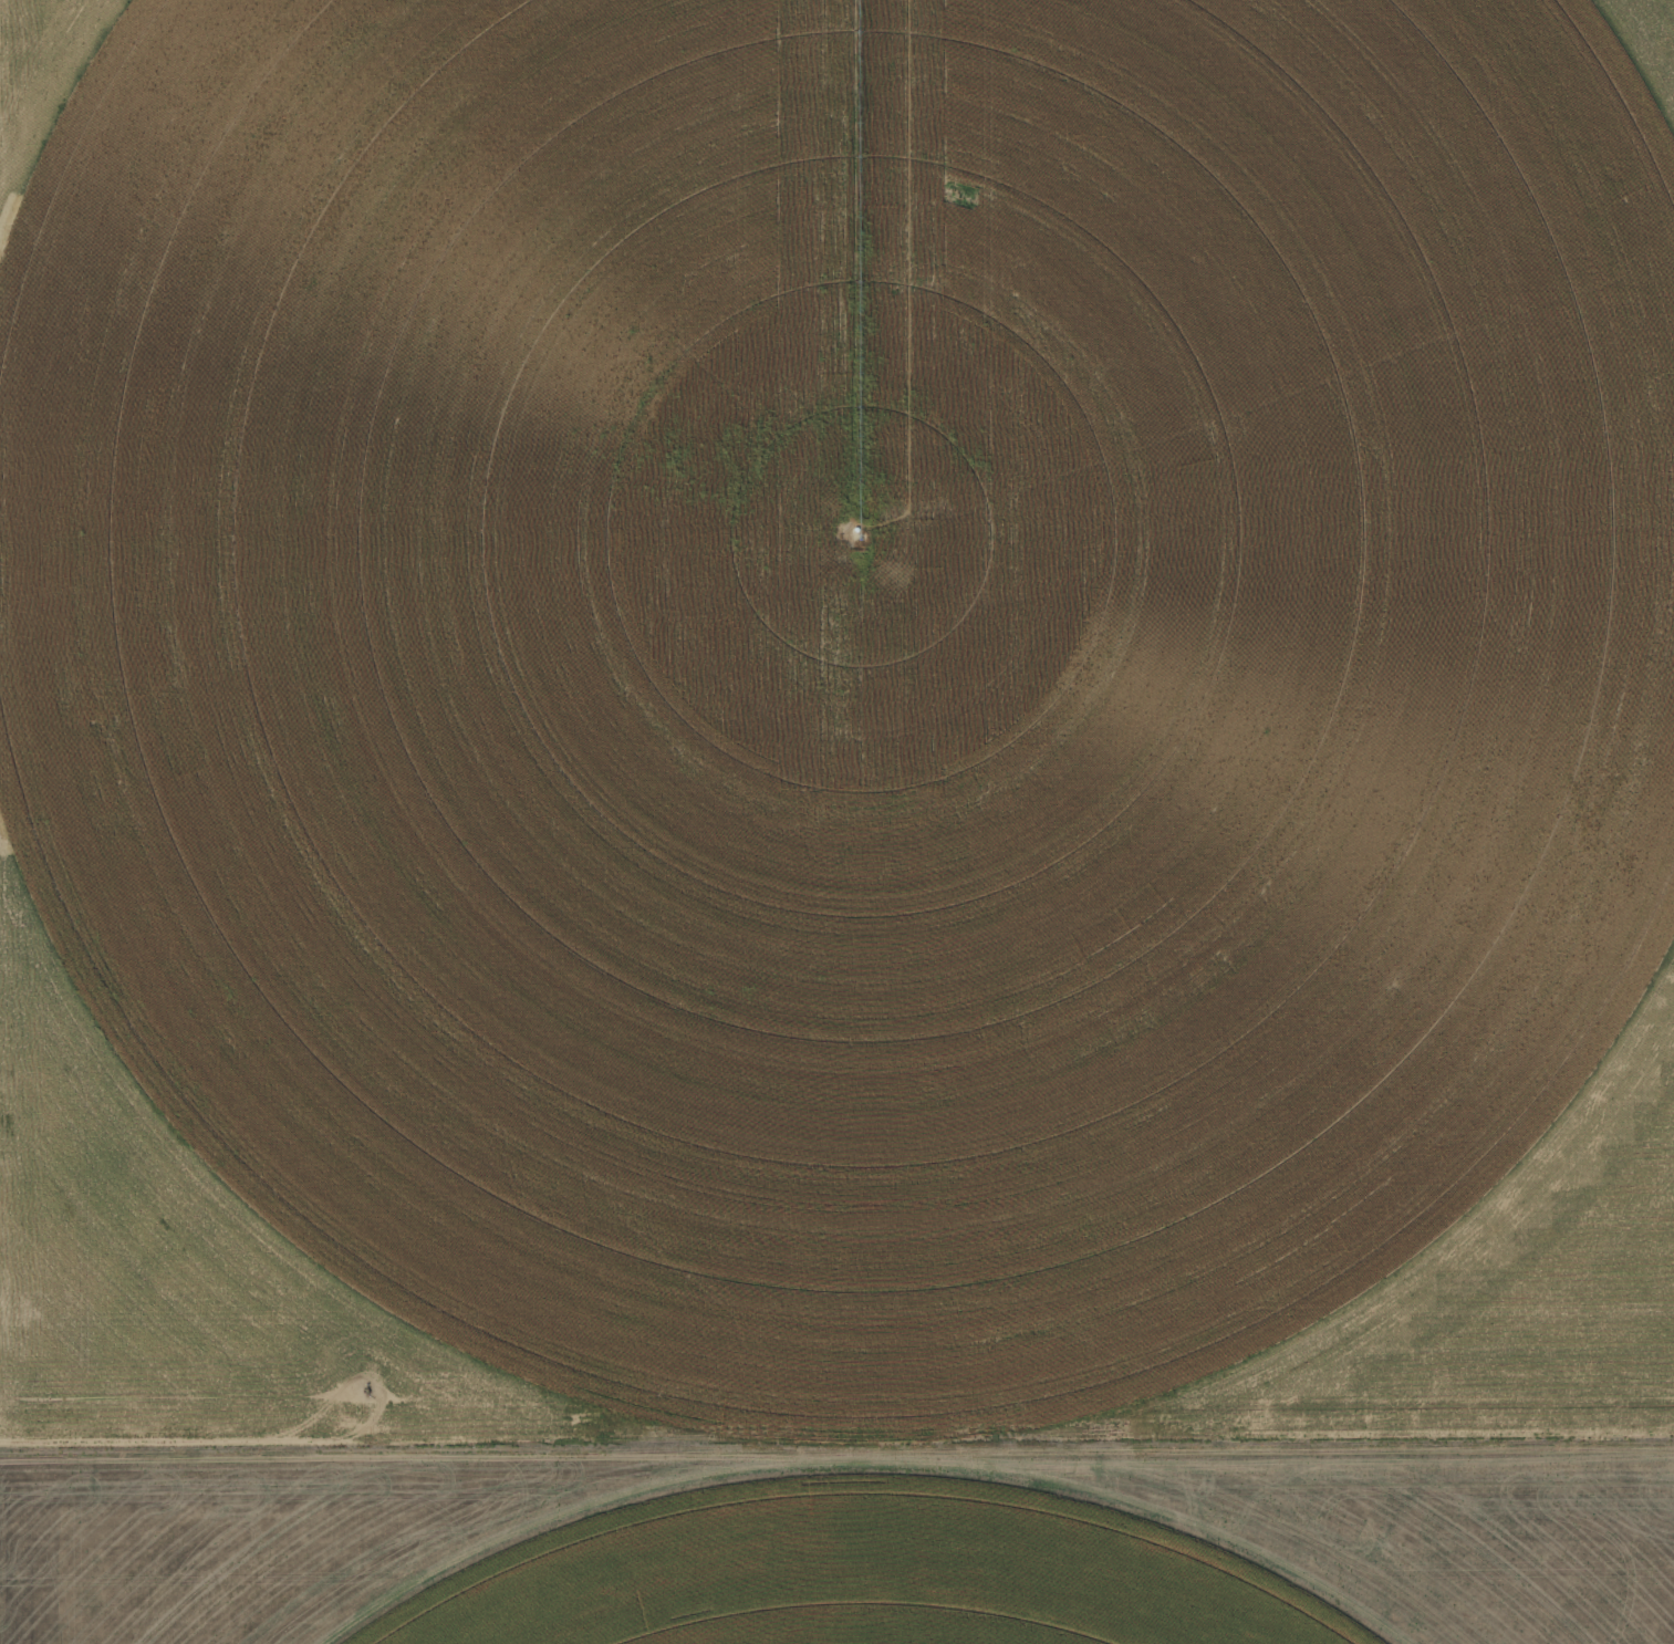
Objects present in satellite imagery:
road: (107, 1610)

